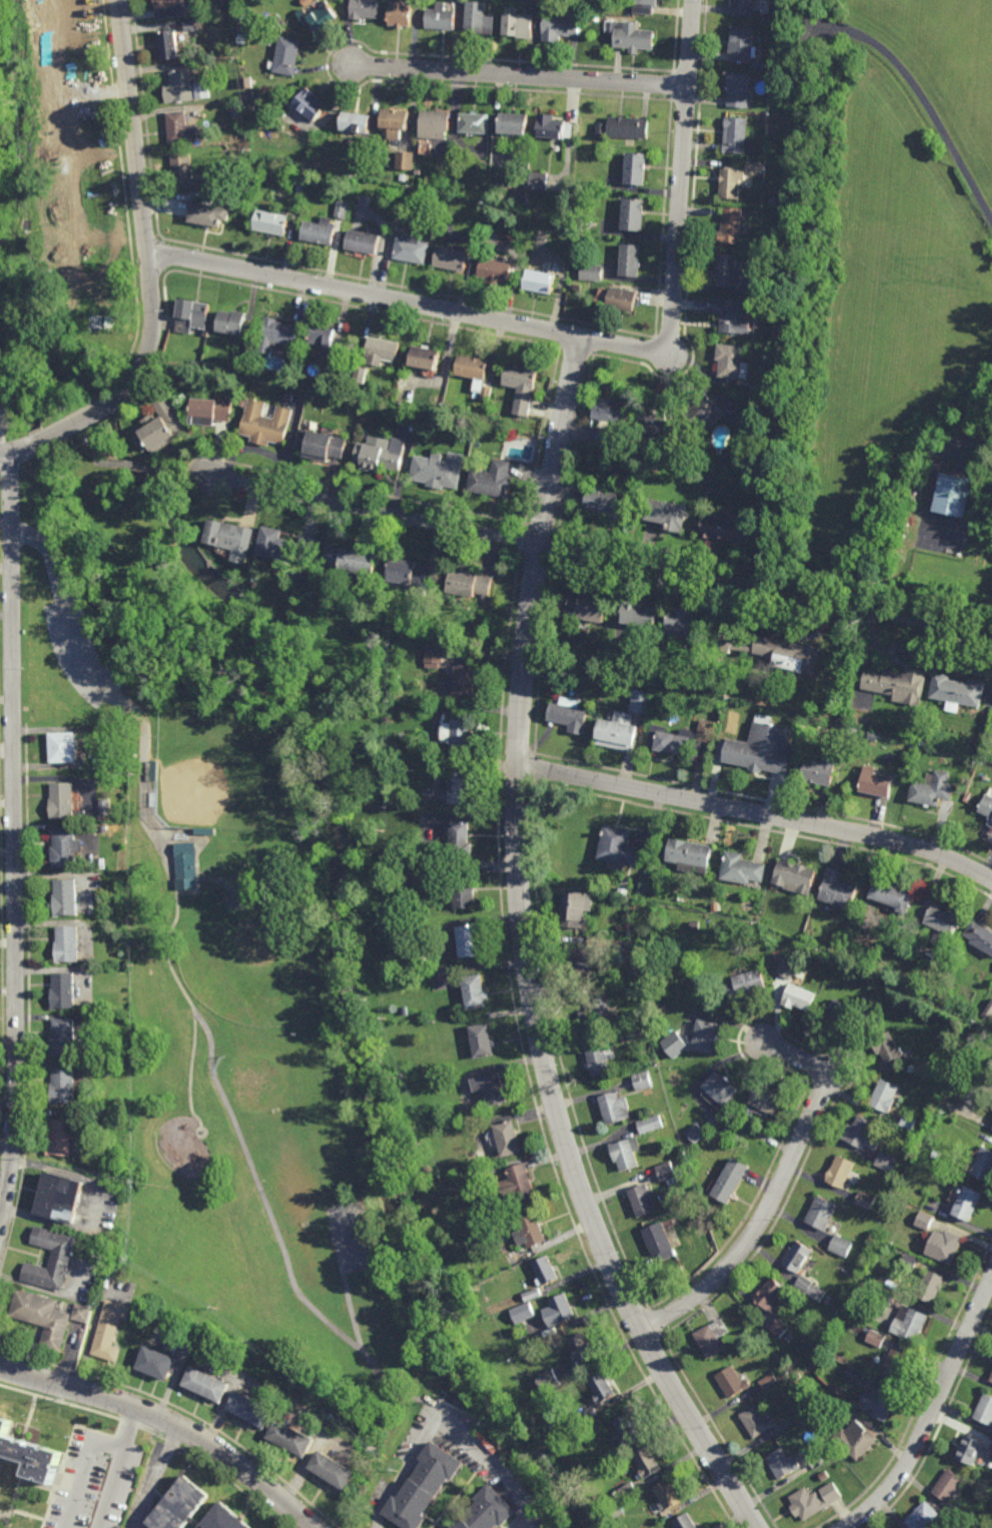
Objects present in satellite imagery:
building: (646, 2)
building: (169, 7)
building: (364, 7)
building: (742, 8)
building: (317, 12)
building: (400, 12)
building: (440, 15)
building: (478, 16)
building: (764, 18)
building: (190, 23)
building: (515, 23)
building: (558, 24)
building: (634, 35)
building: (241, 36)
building: (168, 42)
building: (741, 44)
building: (286, 52)
building: (757, 65)
road: (519, 75)
building: (178, 84)
building: (738, 87)
building: (201, 88)
road: (914, 91)
building: (309, 101)
building: (237, 105)
building: (354, 120)
building: (394, 120)
building: (473, 121)
building: (512, 121)
building: (434, 123)
building: (549, 125)
building: (179, 126)
building: (624, 126)
building: (737, 134)
building: (350, 143)
building: (439, 148)
building: (404, 159)
building: (181, 166)
building: (635, 166)
building: (756, 166)
building: (417, 171)
road: (682, 172)
building: (211, 177)
building: (537, 180)
building: (731, 180)
building: (300, 186)
building: (241, 188)
road: (125, 194)
building: (523, 194)
building: (774, 198)
building: (342, 208)
building: (207, 212)
building: (633, 213)
building: (271, 220)
building: (731, 224)
building: (318, 230)
building: (363, 240)
building: (411, 247)
building: (450, 257)
building: (630, 258)
road: (150, 270)
building: (494, 270)
building: (730, 270)
building: (591, 271)
building: (538, 281)
building: (577, 287)
building: (622, 297)
road: (409, 302)
building: (776, 307)
building: (731, 314)
building: (192, 315)
building: (231, 322)
road: (683, 332)
building: (279, 335)
building: (324, 336)
building: (381, 351)
building: (425, 358)
building: (730, 362)
building: (195, 363)
building: (206, 364)
building: (473, 370)
building: (256, 371)
building: (359, 374)
building: (309, 385)
building: (522, 386)
building: (486, 392)
building: (244, 402)
building: (611, 409)
building: (705, 410)
building: (214, 412)
building: (401, 414)
building: (766, 415)
building: (267, 425)
building: (163, 426)
building: (311, 426)
building: (655, 427)
building: (601, 435)
building: (86, 441)
building: (327, 447)
building: (687, 447)
road: (957, 449)
building: (381, 455)
building: (691, 459)
road: (101, 461)
road: (134, 464)
road: (171, 470)
building: (439, 471)
road: (197, 475)
building: (493, 482)
road: (351, 487)
building: (951, 495)
building: (609, 505)
building: (667, 516)
road: (541, 526)
building: (728, 532)
road: (521, 536)
building: (231, 537)
road: (556, 546)
building: (288, 552)
road: (599, 556)
building: (356, 564)
building: (415, 578)
building: (472, 586)
building: (591, 607)
building: (643, 616)
building: (690, 625)
road: (72, 635)
road: (540, 652)
building: (433, 654)
building: (789, 655)
parking lot: (86, 668)
building: (611, 680)
building: (463, 684)
building: (899, 686)
building: (709, 687)
building: (957, 693)
building: (639, 700)
building: (570, 716)
building: (706, 730)
building: (619, 733)
building: (850, 733)
building: (459, 736)
building: (672, 744)
building: (63, 746)
building: (764, 748)
road: (534, 765)
park: (221, 766)
building: (824, 772)
building: (154, 773)
building: (876, 784)
building: (464, 788)
building: (932, 791)
building: (64, 799)
building: (388, 799)
road: (766, 800)
building: (105, 806)
building: (987, 807)
road: (757, 813)
building: (104, 828)
road: (765, 829)
building: (88, 834)
building: (461, 839)
road: (16, 841)
building: (618, 845)
building: (65, 847)
building: (689, 853)
building: (436, 854)
building: (185, 866)
building: (743, 869)
building: (797, 878)
building: (839, 888)
building: (622, 890)
building: (609, 895)
building: (890, 895)
building: (286, 896)
building: (65, 897)
building: (465, 897)
building: (578, 909)
building: (902, 925)
building: (945, 926)
building: (980, 938)
building: (469, 943)
building: (66, 944)
building: (300, 945)
road: (526, 953)
building: (423, 957)
building: (583, 961)
park: (244, 964)
building: (786, 968)
building: (620, 971)
building: (745, 987)
building: (63, 990)
building: (476, 993)
building: (798, 1000)
building: (598, 1013)
building: (849, 1013)
park: (252, 1016)
road: (779, 1025)
building: (636, 1032)
building: (63, 1037)
building: (707, 1037)
building: (482, 1041)
building: (675, 1044)
building: (886, 1048)
road: (559, 1052)
building: (651, 1058)
building: (600, 1059)
road: (526, 1061)
building: (910, 1068)
road: (191, 1069)
building: (642, 1081)
building: (62, 1085)
building: (495, 1089)
building: (720, 1090)
park: (271, 1092)
building: (884, 1097)
building: (767, 1102)
road: (228, 1105)
building: (615, 1109)
building: (906, 1122)
building: (650, 1124)
building: (728, 1129)
building: (696, 1133)
building: (862, 1135)
building: (60, 1137)
building: (508, 1138)
building: (626, 1153)
building: (884, 1162)
building: (984, 1165)
building: (667, 1171)
building: (841, 1172)
building: (521, 1178)
building: (733, 1181)
road: (777, 1190)
building: (60, 1198)
building: (863, 1200)
building: (644, 1201)
building: (969, 1205)
building: (823, 1213)
building: (923, 1220)
building: (531, 1233)
park: (352, 1239)
building: (658, 1239)
building: (882, 1245)
building: (839, 1246)
building: (945, 1246)
building: (61, 1255)
building: (799, 1257)
building: (908, 1263)
building: (546, 1272)
building: (932, 1286)
building: (808, 1289)
building: (531, 1295)
building: (771, 1295)
building: (886, 1297)
building: (827, 1300)
road: (350, 1309)
building: (560, 1309)
building: (522, 1312)
building: (81, 1313)
road: (632, 1316)
building: (41, 1318)
road: (654, 1323)
building: (911, 1323)
building: (777, 1325)
building: (110, 1330)
building: (787, 1335)
building: (744, 1337)
building: (875, 1337)
building: (712, 1338)
road: (647, 1345)
building: (583, 1348)
building: (156, 1363)
building: (894, 1364)
building: (854, 1374)
building: (796, 1375)
building: (788, 1378)
building: (547, 1379)
building: (766, 1380)
building: (991, 1380)
building: (206, 1383)
building: (732, 1383)
building: (602, 1388)
road: (922, 1396)
building: (879, 1402)
building: (251, 1408)
building: (984, 1410)
road: (933, 1411)
building: (588, 1413)
road: (171, 1422)
building: (759, 1423)
road: (939, 1426)
building: (627, 1429)
road: (719, 1432)
building: (292, 1437)
building: (858, 1440)
building: (991, 1447)
building: (971, 1452)
building: (30, 1455)
building: (991, 1455)
building: (648, 1462)
building: (785, 1463)
road: (494, 1467)
road: (117, 1468)
building: (333, 1469)
road: (83, 1472)
road: (405, 1472)
road: (151, 1474)
building: (949, 1485)
building: (422, 1486)
building: (627, 1489)
building: (667, 1496)
building: (807, 1504)
building: (178, 1506)
building: (486, 1510)
building: (924, 1517)
building: (223, 1518)
building: (686, 1523)
road: (522, 1526)

